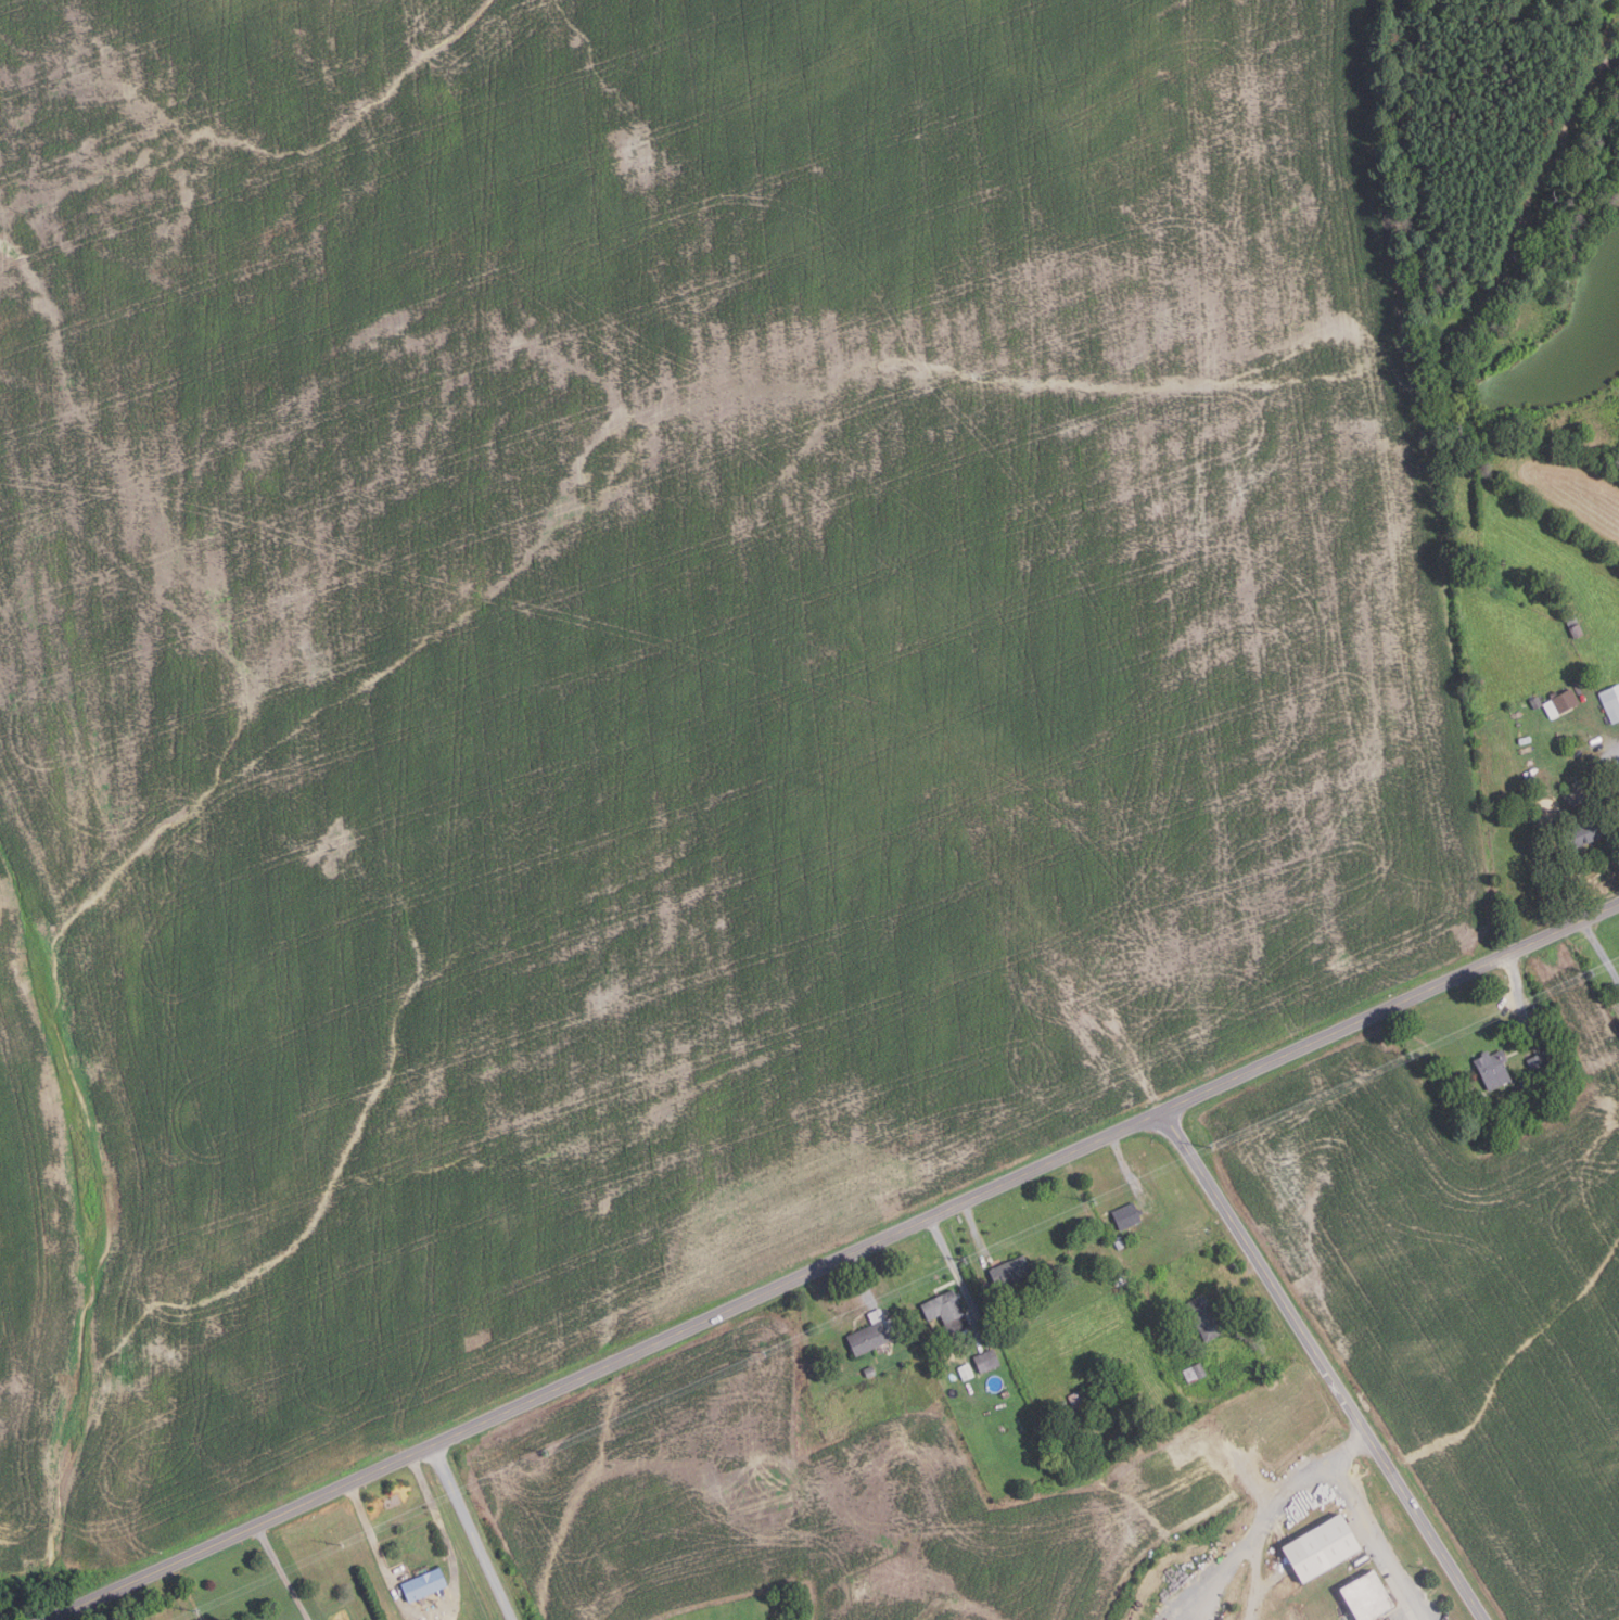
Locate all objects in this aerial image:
building: (1528, 238)
building: (1551, 246)
building: (1573, 626)
building: (1535, 701)
building: (1611, 702)
building: (1561, 703)
building: (1597, 802)
building: (1585, 834)
road: (1601, 949)
power tower: (1591, 970)
road: (1520, 991)
power tower: (1413, 1054)
building: (1553, 1055)
building: (1537, 1062)
building: (1493, 1068)
power tower: (1212, 1147)
road: (1126, 1168)
power tower: (1095, 1201)
building: (1157, 1213)
building: (1126, 1216)
road: (976, 1233)
building: (1119, 1243)
road: (836, 1261)
power tower: (966, 1263)
road: (956, 1272)
building: (1009, 1273)
building: (1118, 1275)
road: (862, 1277)
building: (946, 1311)
building: (1204, 1318)
building: (874, 1334)
power tower: (763, 1353)
building: (986, 1361)
road: (1326, 1364)
building: (869, 1372)
building: (966, 1372)
building: (1195, 1374)
building: (1078, 1396)
power tower: (545, 1452)
building: (861, 1458)
road: (1365, 1520)
road: (1265, 1527)
road: (473, 1532)
power tower: (343, 1545)
building: (1322, 1547)
road: (283, 1572)
building: (424, 1584)
building: (1368, 1596)
road: (435, 1608)
power tower: (199, 1611)
building: (781, 1619)

